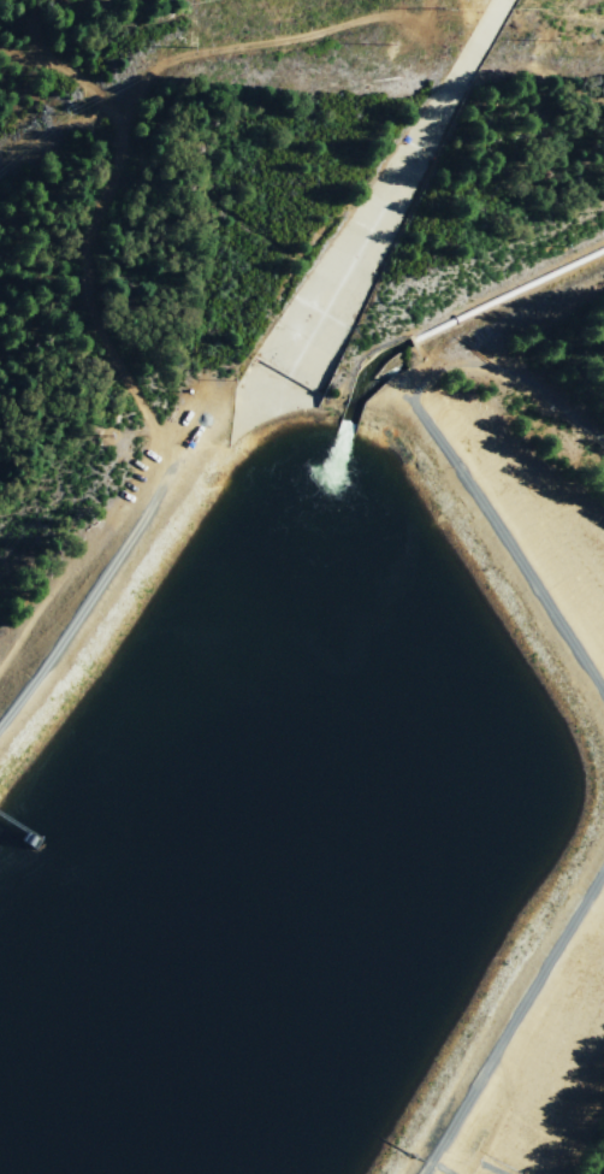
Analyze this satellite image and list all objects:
road: (81, 315)
road: (439, 456)
dam: (103, 562)
road: (97, 573)
dam: (590, 763)
road: (503, 1014)

